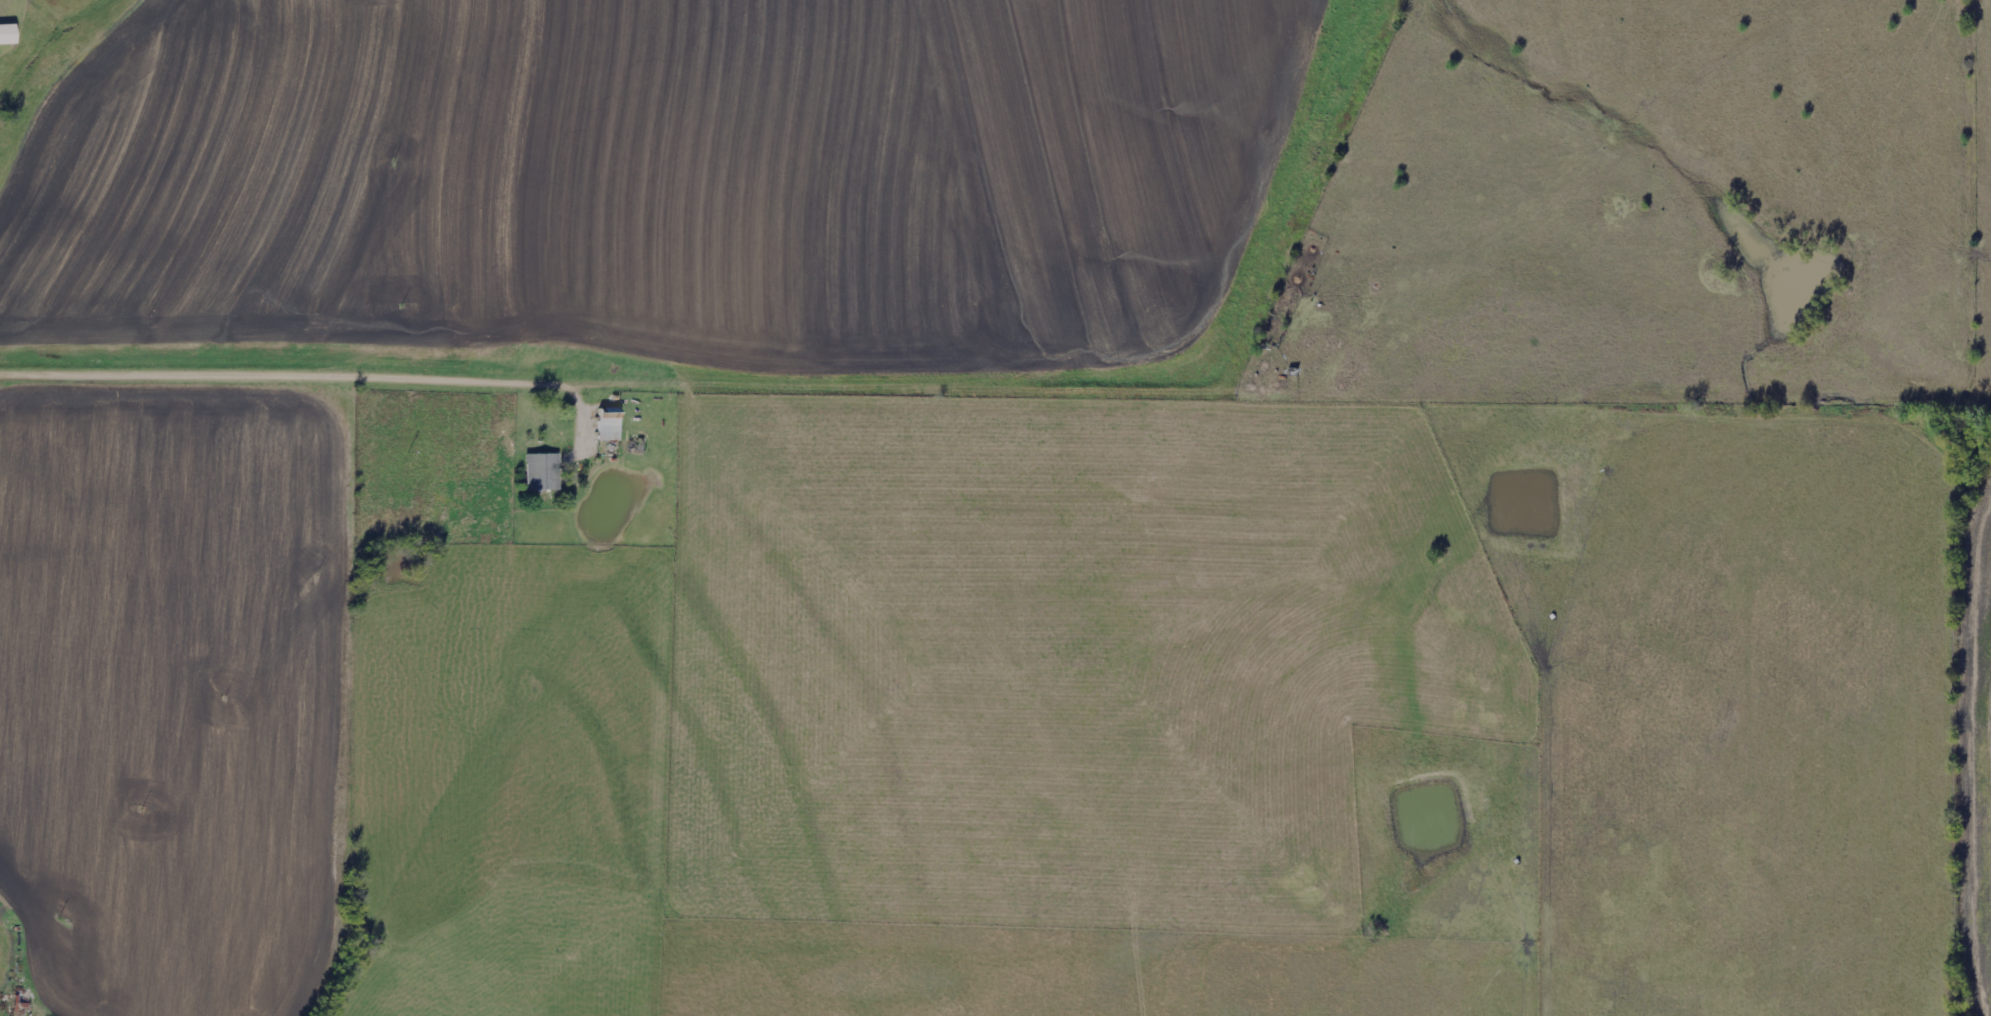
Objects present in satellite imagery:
building: (9, 35)
road: (297, 377)
building: (546, 473)

